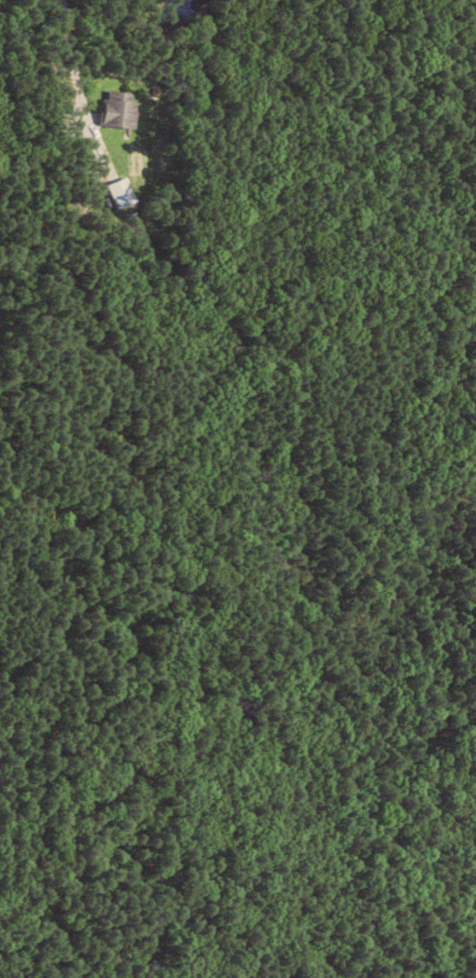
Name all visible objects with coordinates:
building: (120, 108)
building: (123, 191)

